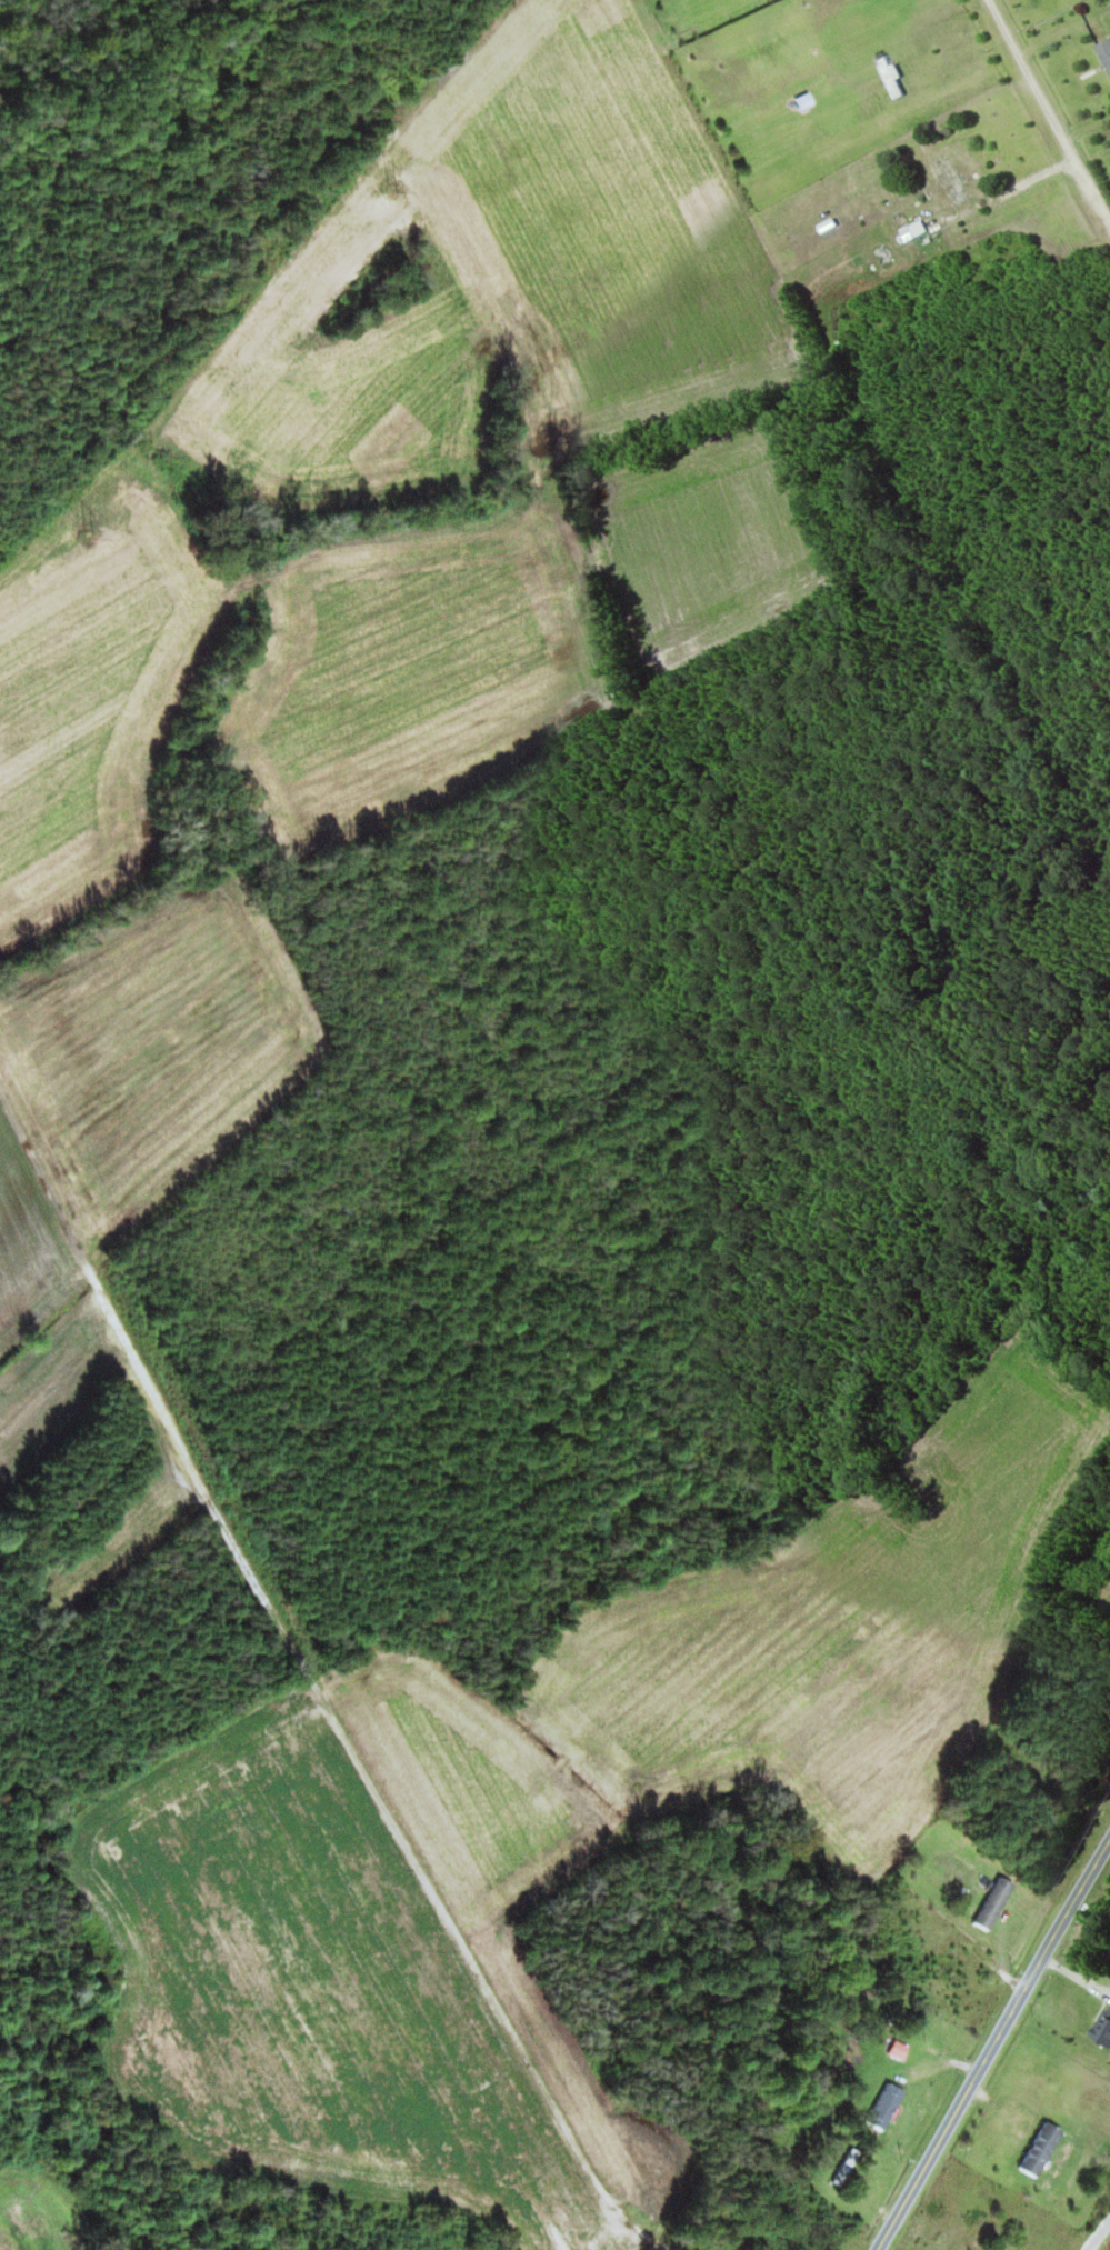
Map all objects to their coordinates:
building: (691, 18)
building: (1103, 58)
building: (886, 79)
road: (1046, 117)
building: (942, 182)
power tower: (397, 190)
power tower: (93, 534)
building: (999, 1903)
building: (901, 1906)
building: (960, 1966)
building: (1107, 2033)
road: (994, 2047)
building: (889, 2106)
building: (1047, 2149)
road: (1098, 2233)
building: (500, 2241)

